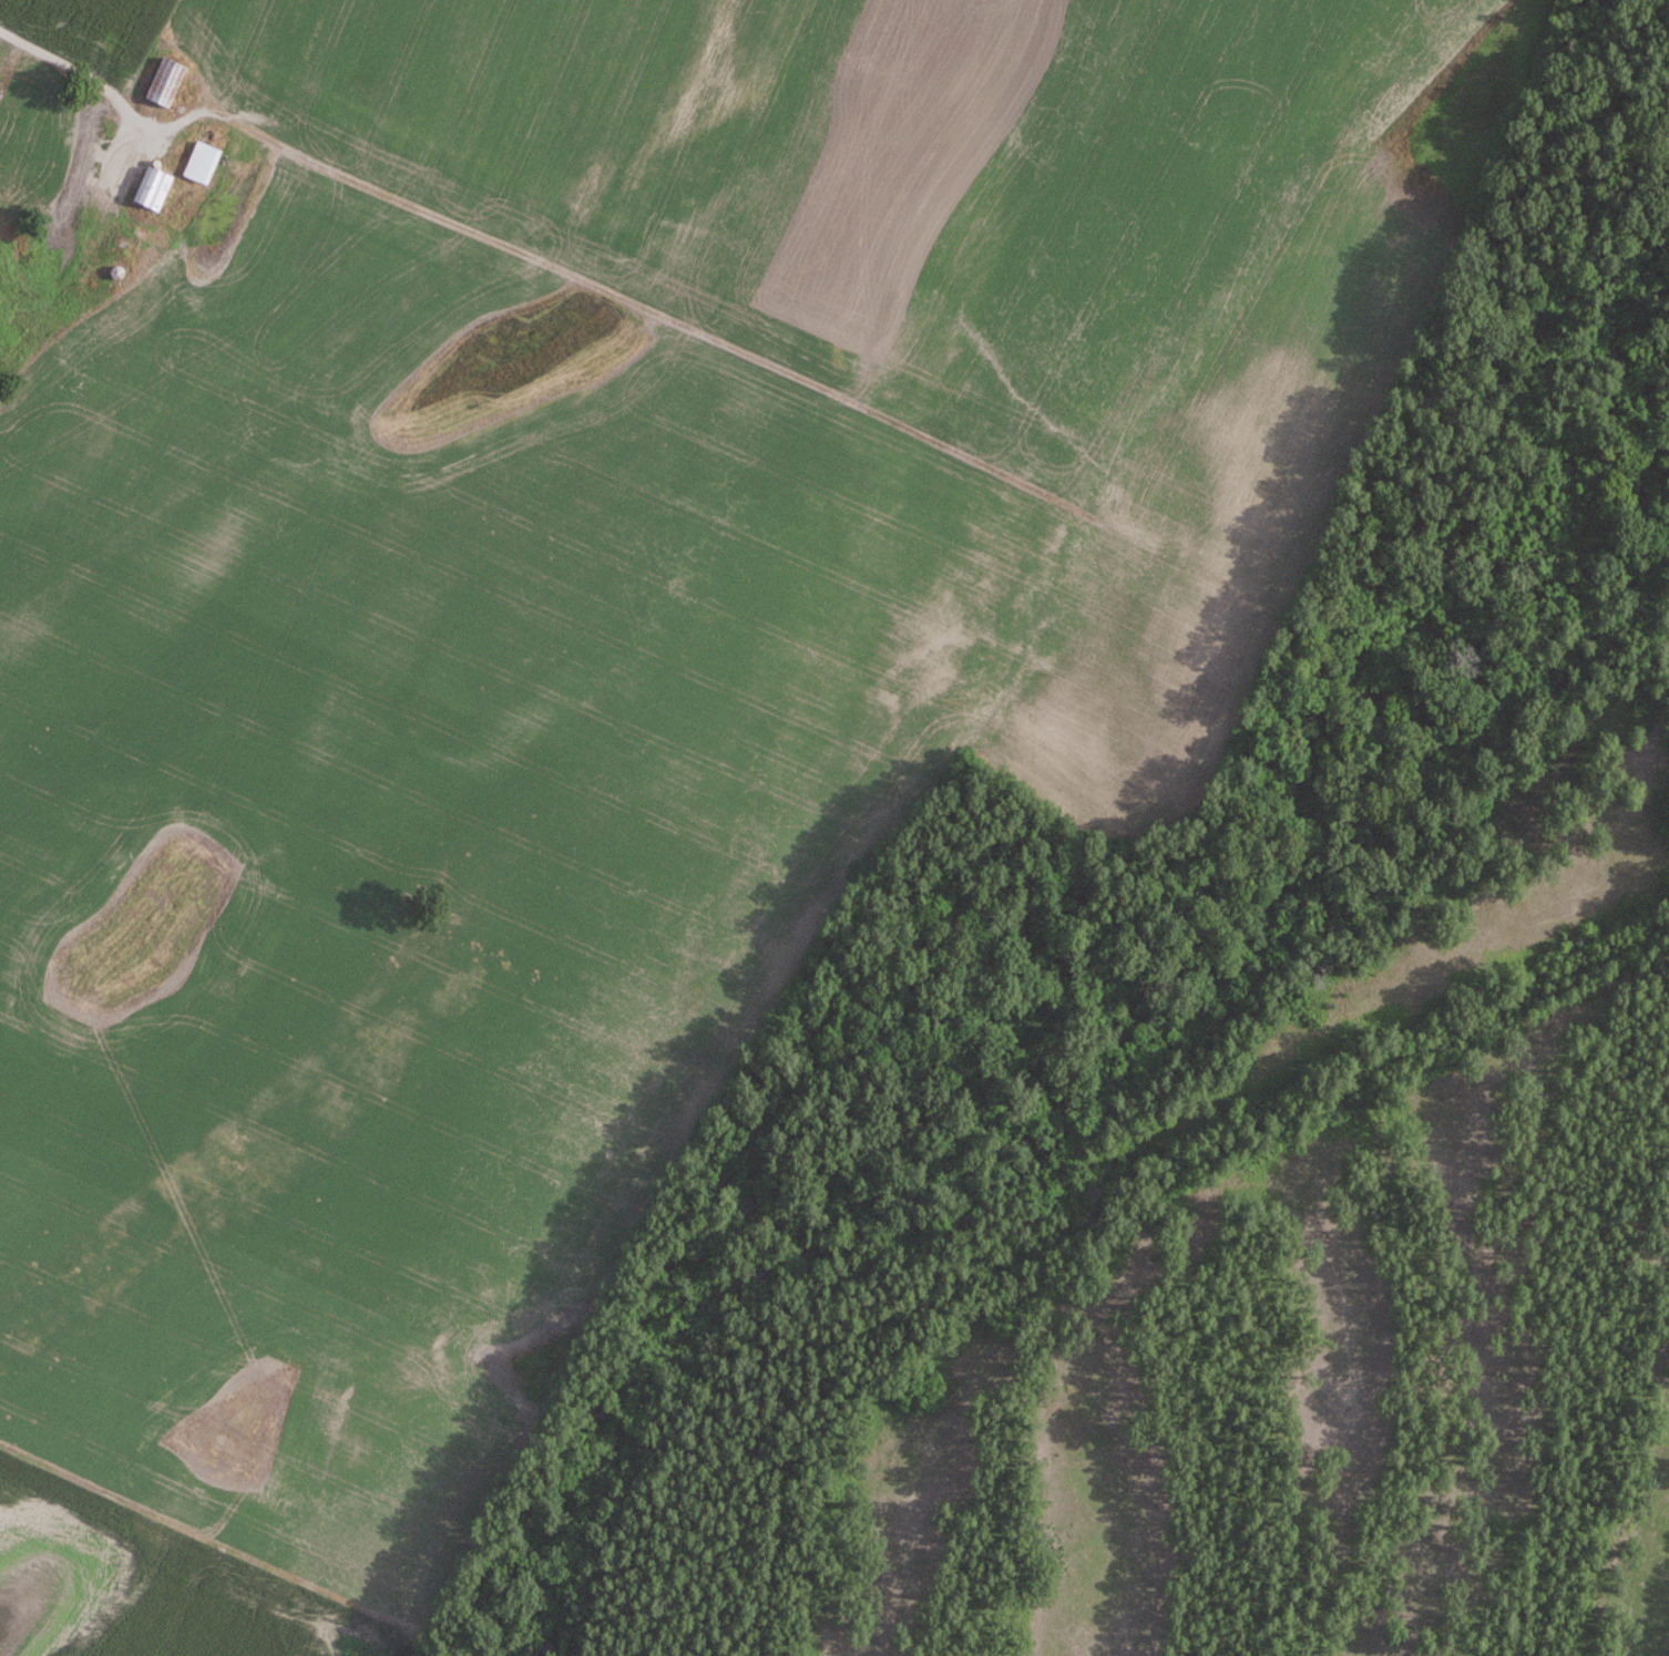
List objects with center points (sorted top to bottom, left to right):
road: (71, 68)
building: (166, 82)
building: (203, 162)
building: (153, 187)

